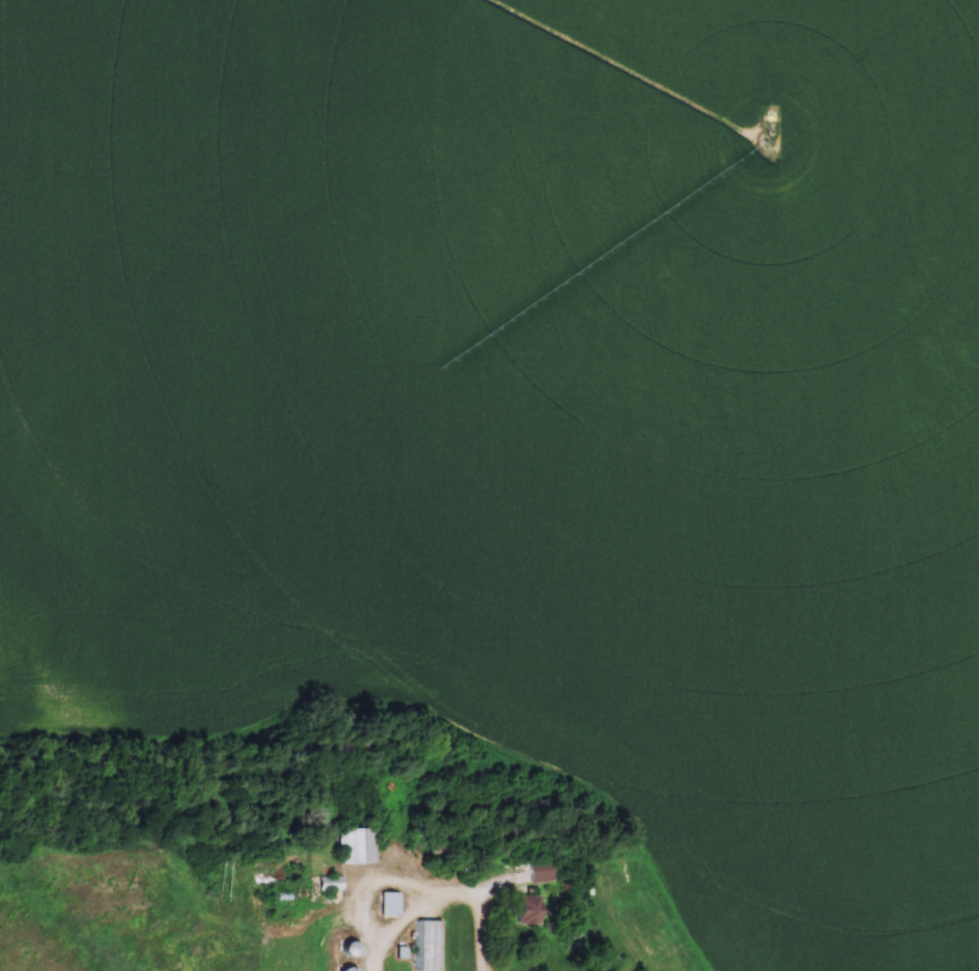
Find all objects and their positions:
building: (358, 846)
building: (538, 871)
building: (330, 884)
road: (443, 904)
building: (390, 905)
building: (525, 911)
building: (430, 946)

